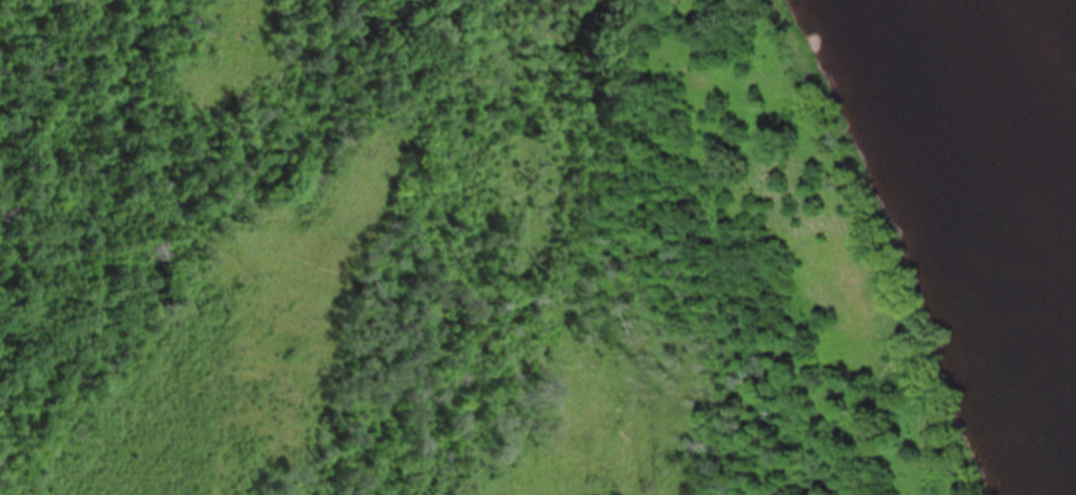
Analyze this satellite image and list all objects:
river: (1046, 59)
park: (535, 249)

